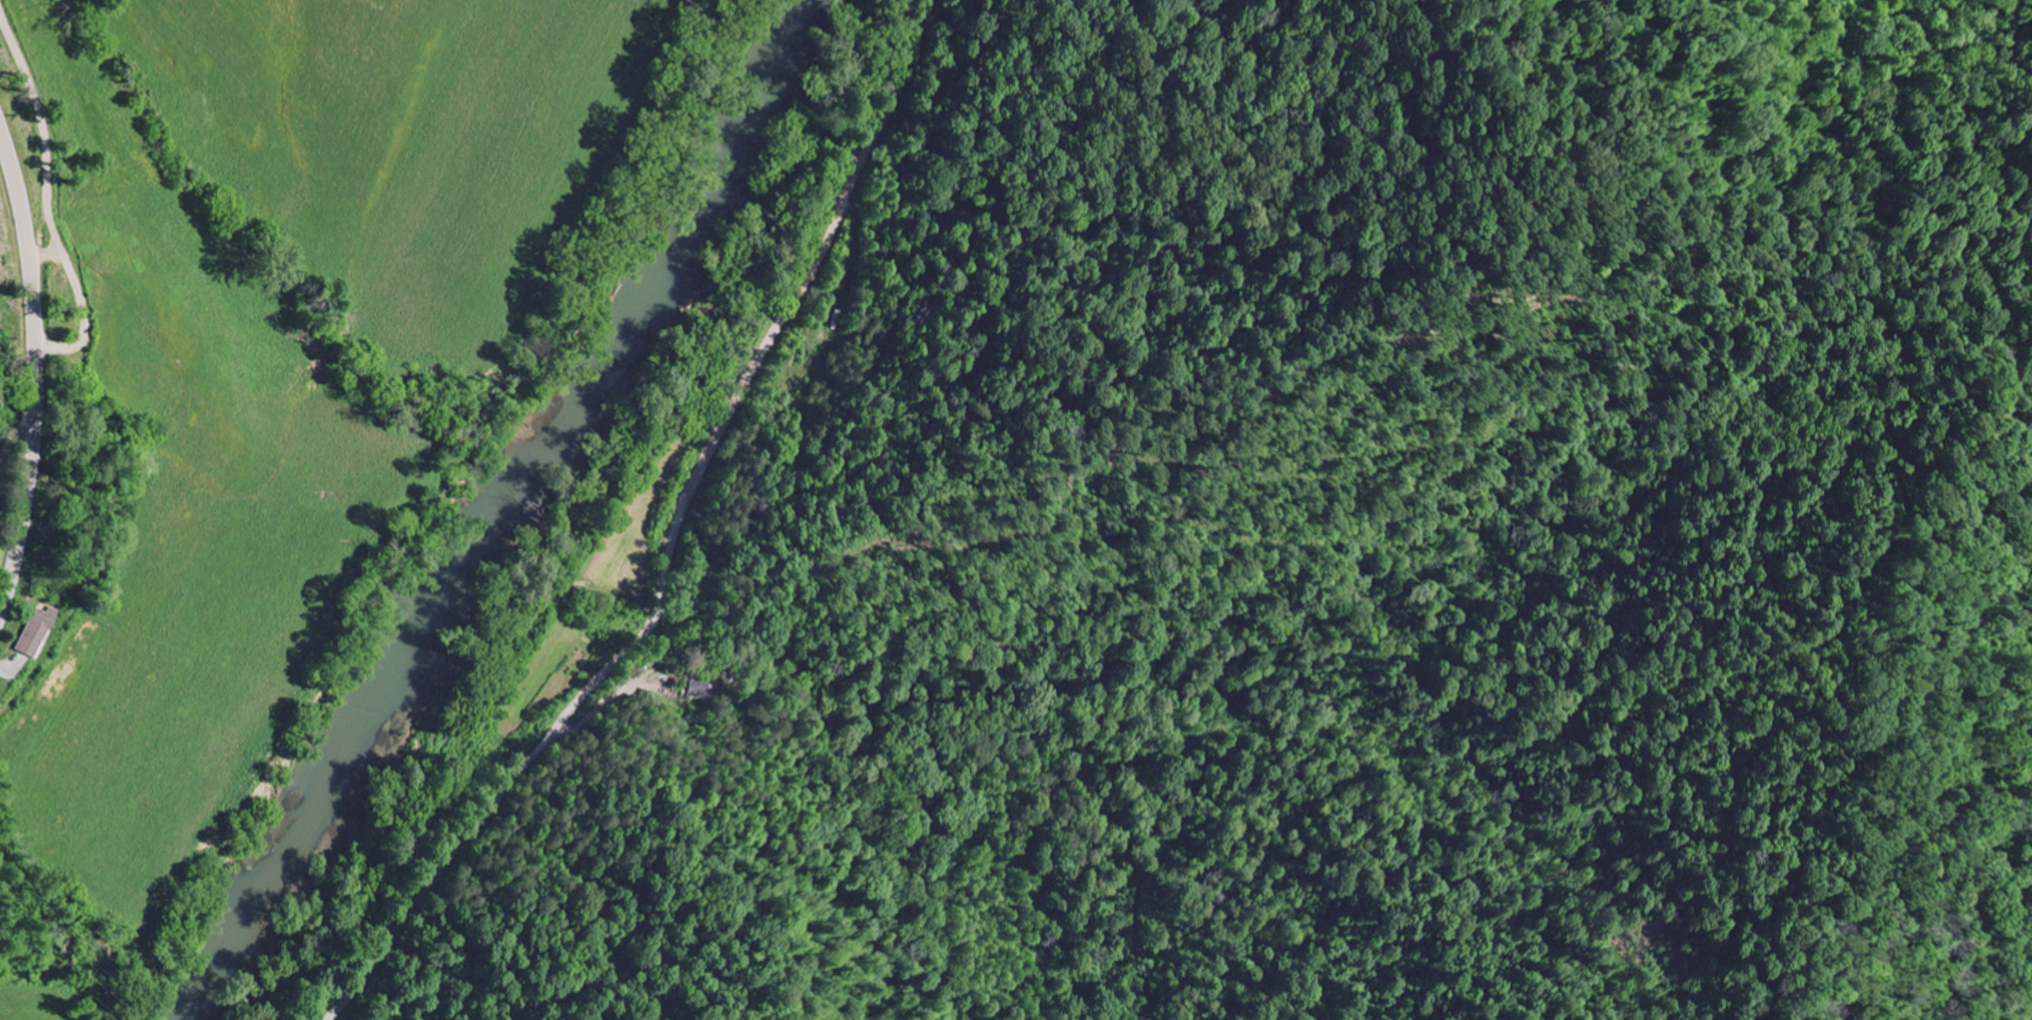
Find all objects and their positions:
road: (46, 130)
road: (36, 368)
river: (507, 515)
road: (674, 538)
building: (32, 632)

